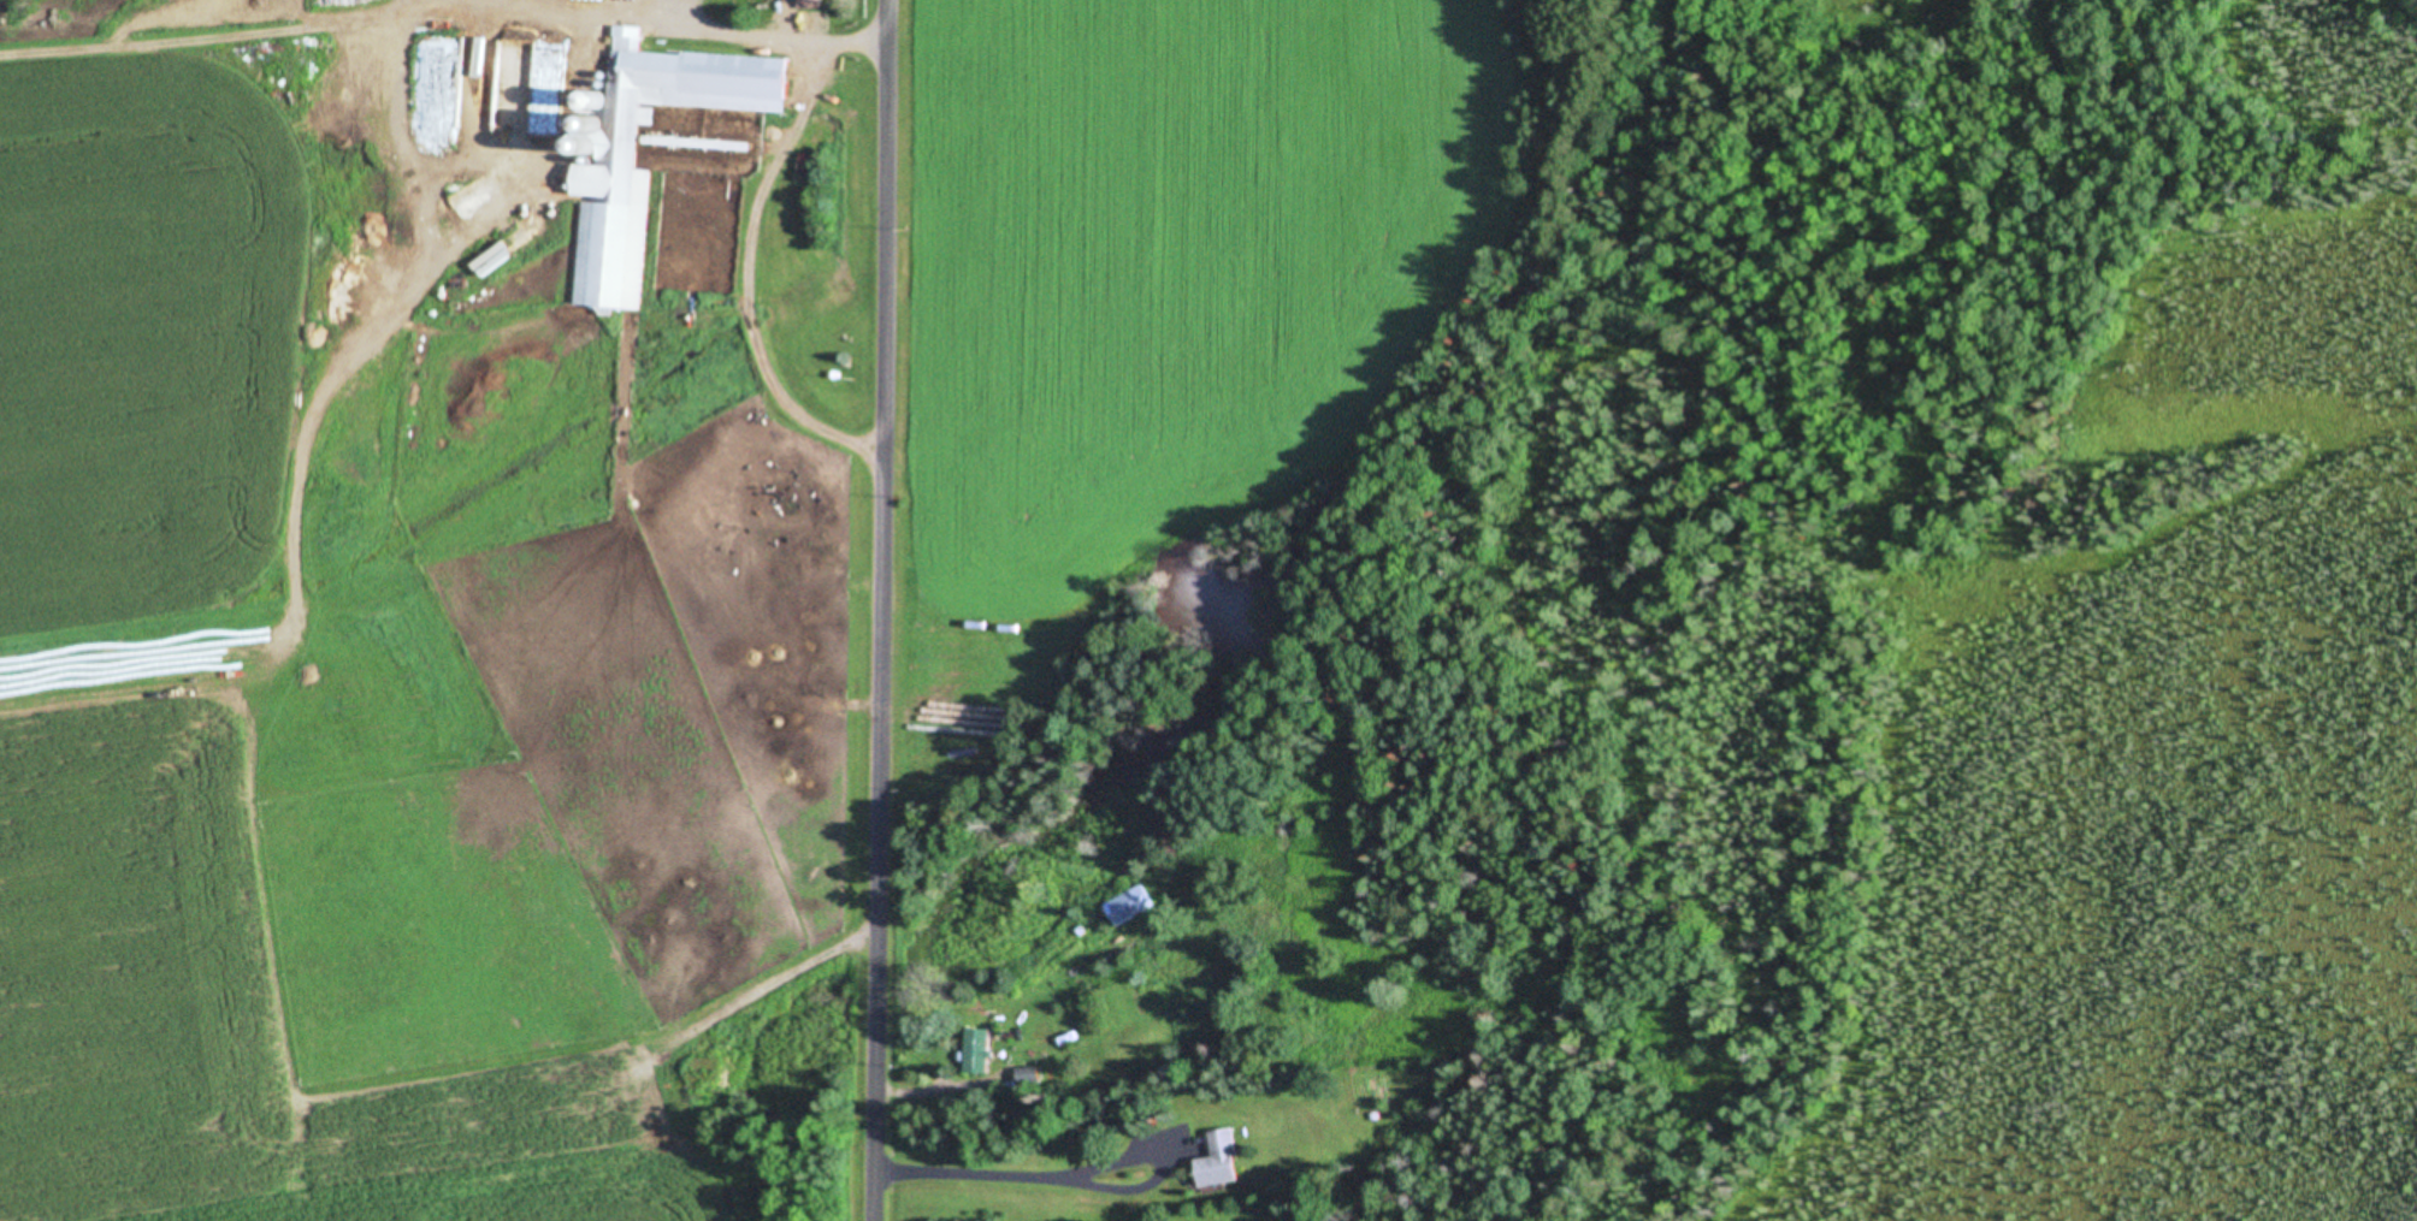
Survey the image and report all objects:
building: (616, 183)
building: (495, 259)
building: (337, 337)
building: (295, 385)
road: (917, 610)
building: (1129, 905)
building: (981, 1051)
building: (1225, 1160)

